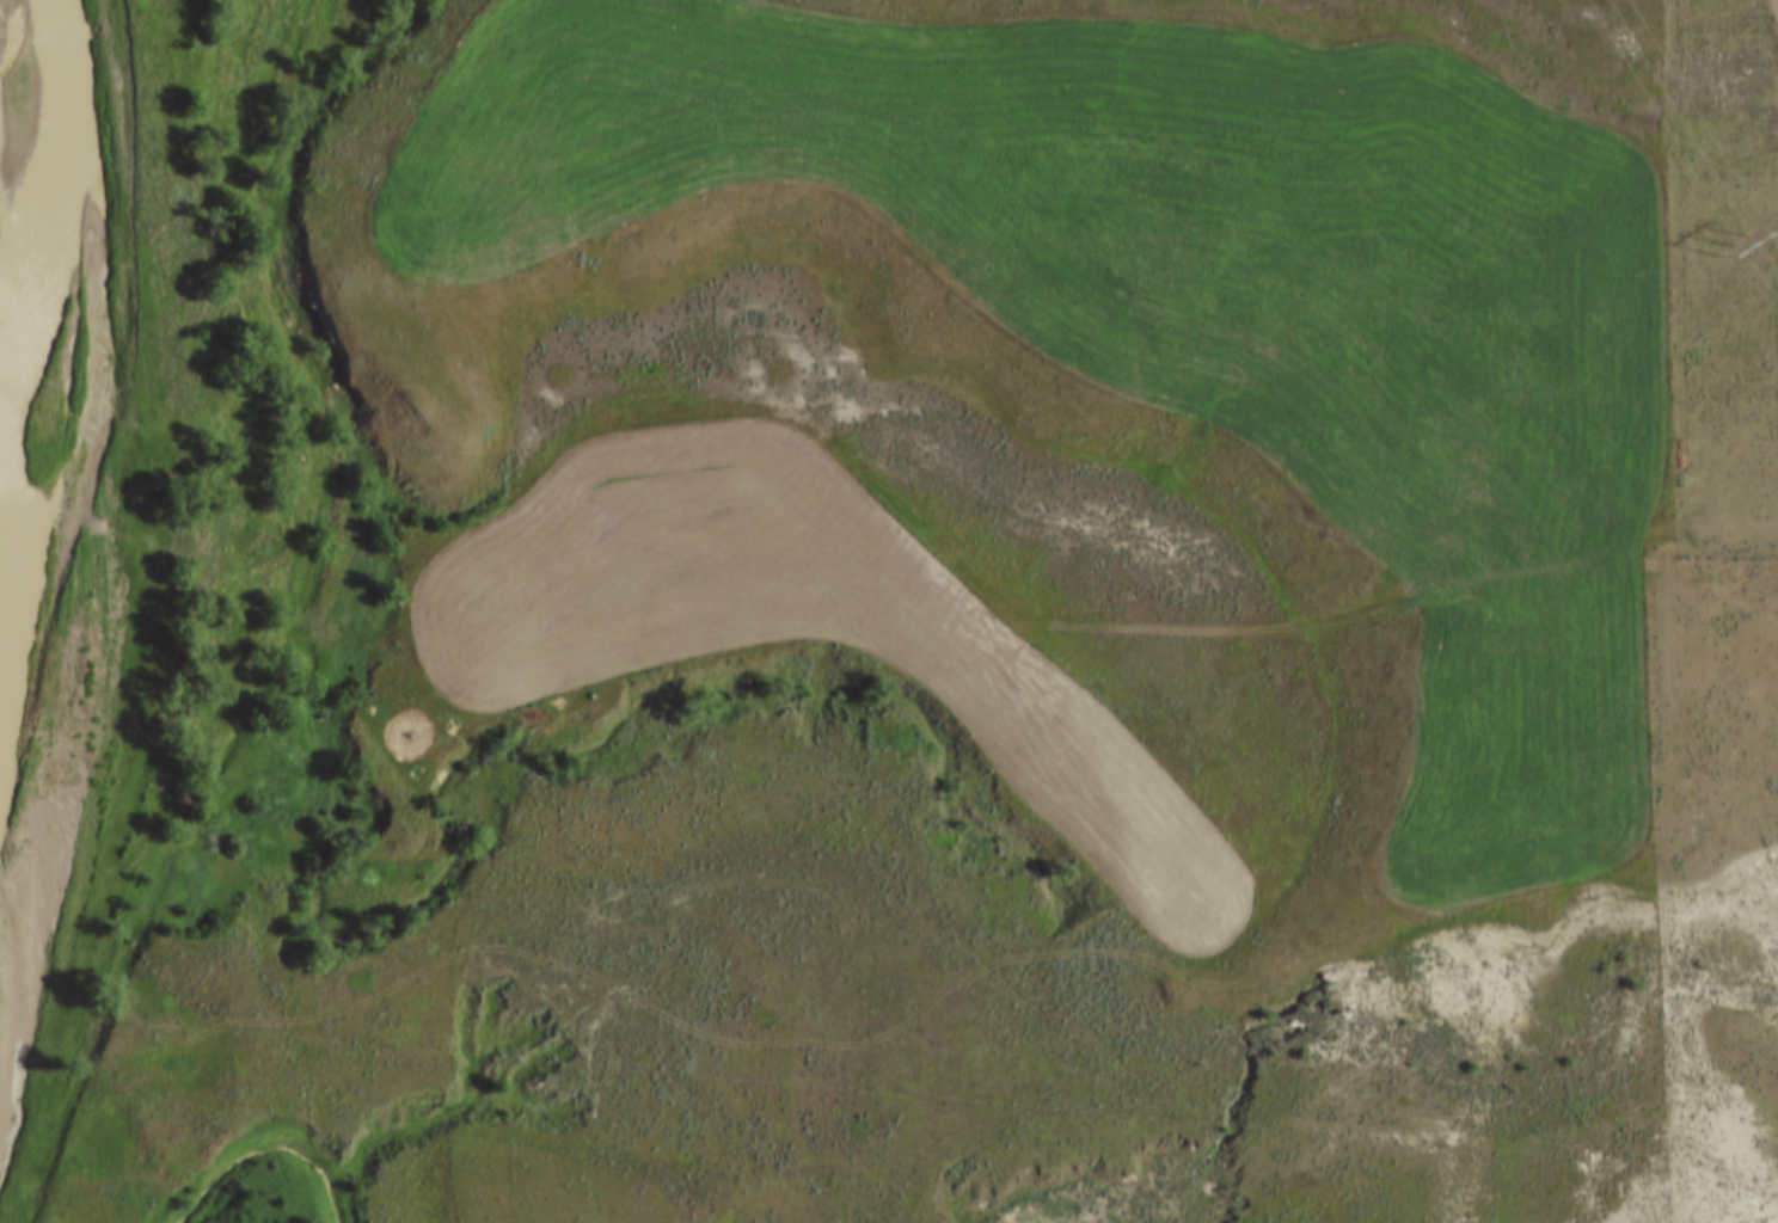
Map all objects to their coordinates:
road: (1774, 10)
power tower: (1739, 246)
river: (30, 331)
river: (268, 1151)

